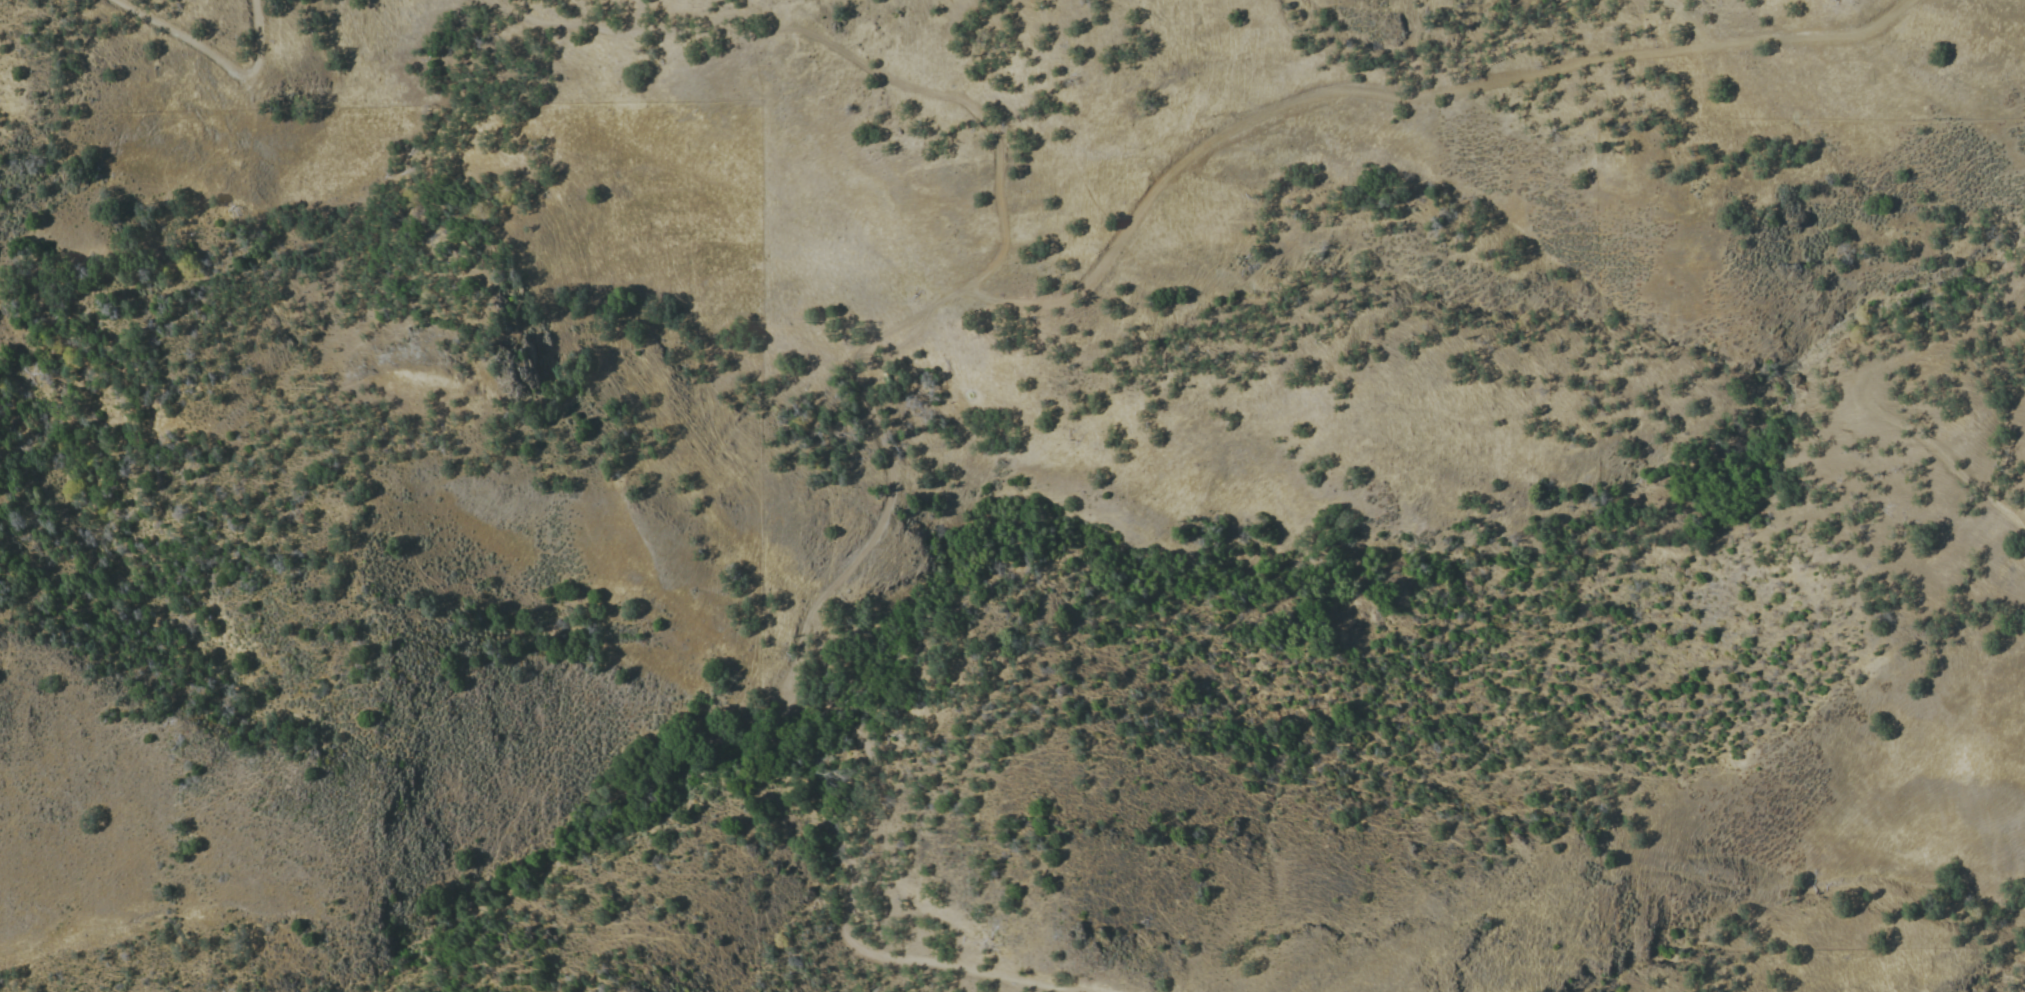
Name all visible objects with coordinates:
road: (1683, 19)
road: (828, 44)
road: (212, 58)
road: (1396, 94)
road: (1860, 404)
road: (829, 693)

